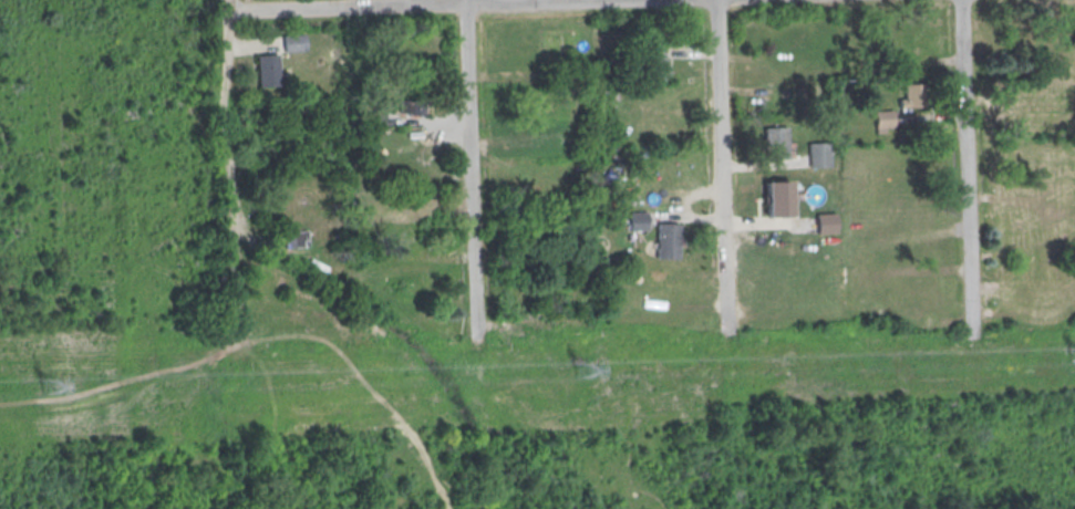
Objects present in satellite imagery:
road: (405, 4)
building: (293, 42)
building: (655, 63)
building: (267, 70)
building: (914, 94)
building: (411, 106)
building: (375, 118)
building: (885, 120)
building: (527, 131)
building: (568, 134)
building: (775, 142)
building: (818, 153)
road: (223, 156)
road: (720, 168)
road: (964, 169)
road: (468, 170)
building: (775, 196)
building: (637, 218)
building: (824, 220)
building: (665, 238)
building: (296, 239)
power tower: (582, 371)
road: (124, 380)
road: (365, 383)
power tower: (46, 384)

